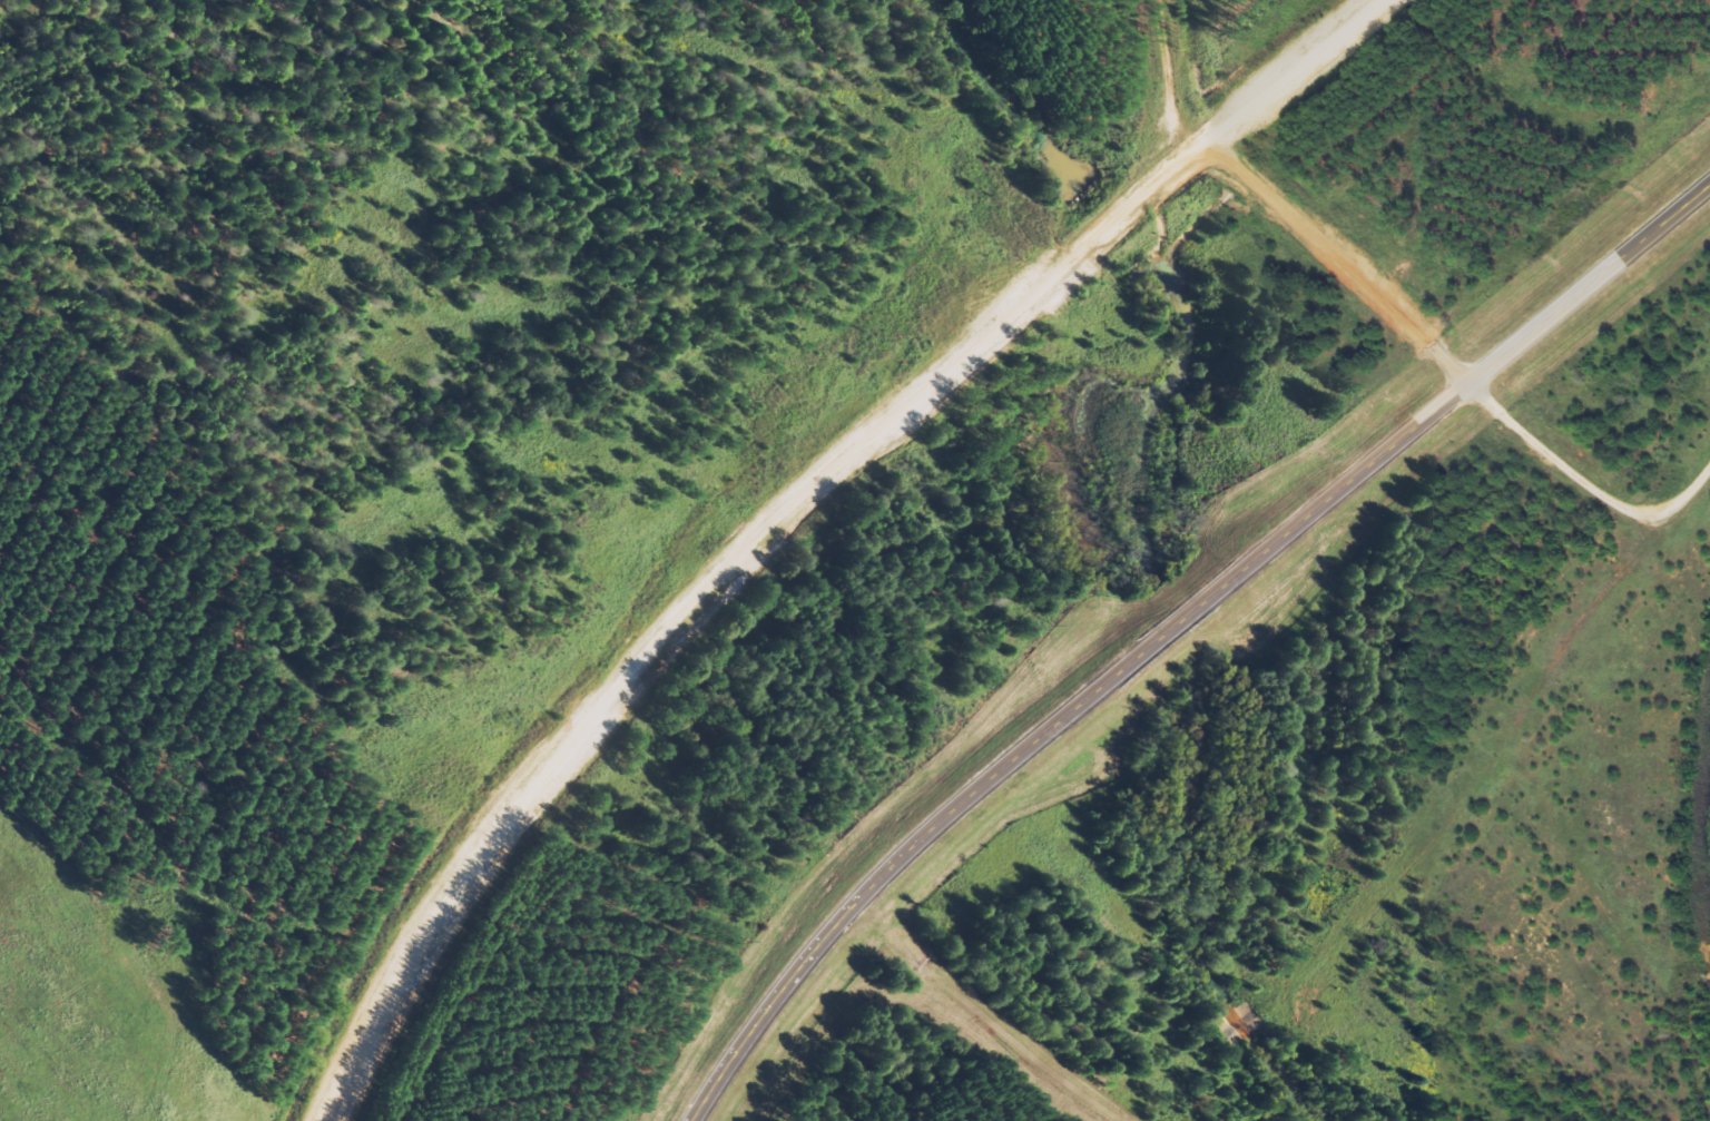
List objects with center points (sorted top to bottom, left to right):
road: (1293, 71)
road: (846, 469)
road: (1171, 625)

